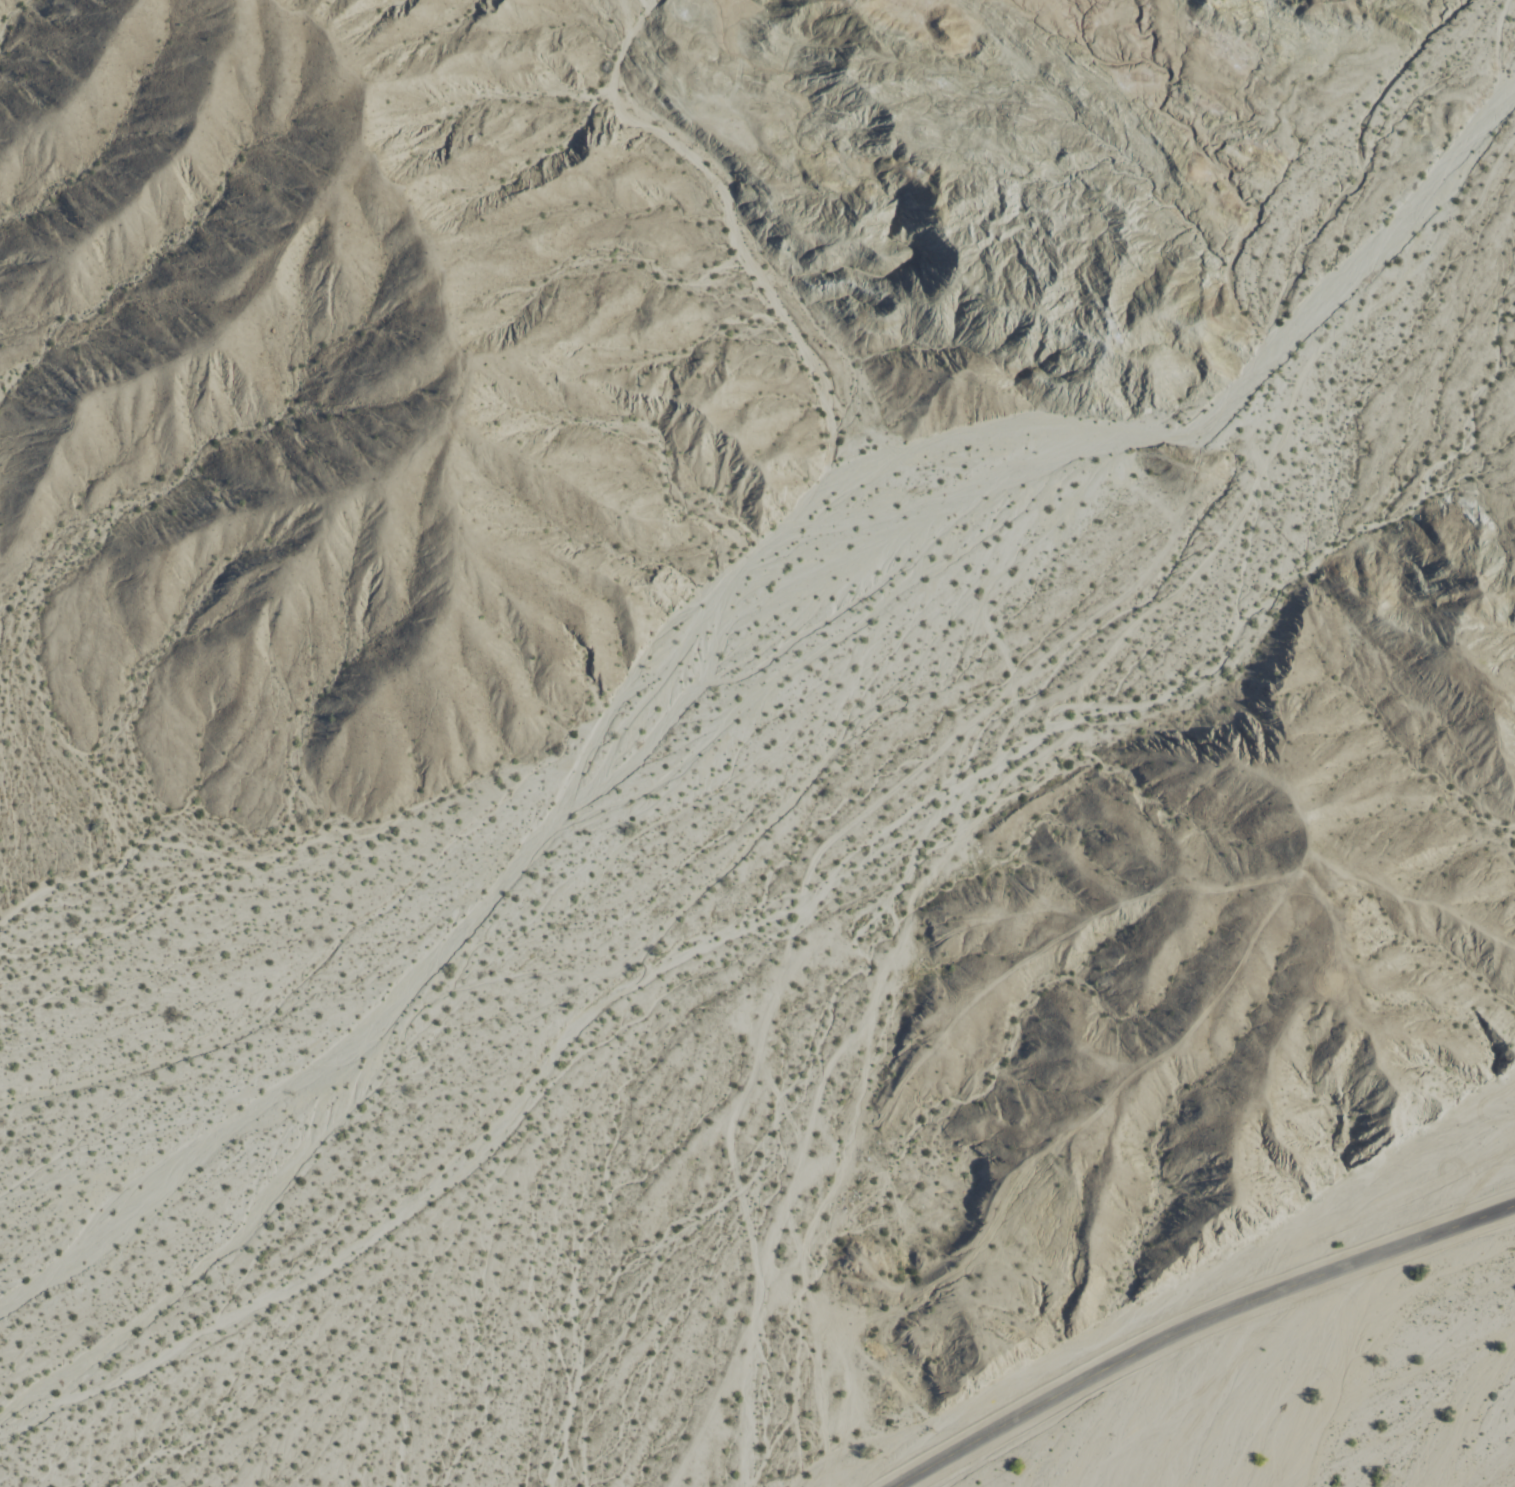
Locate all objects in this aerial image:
road: (1192, 1326)

